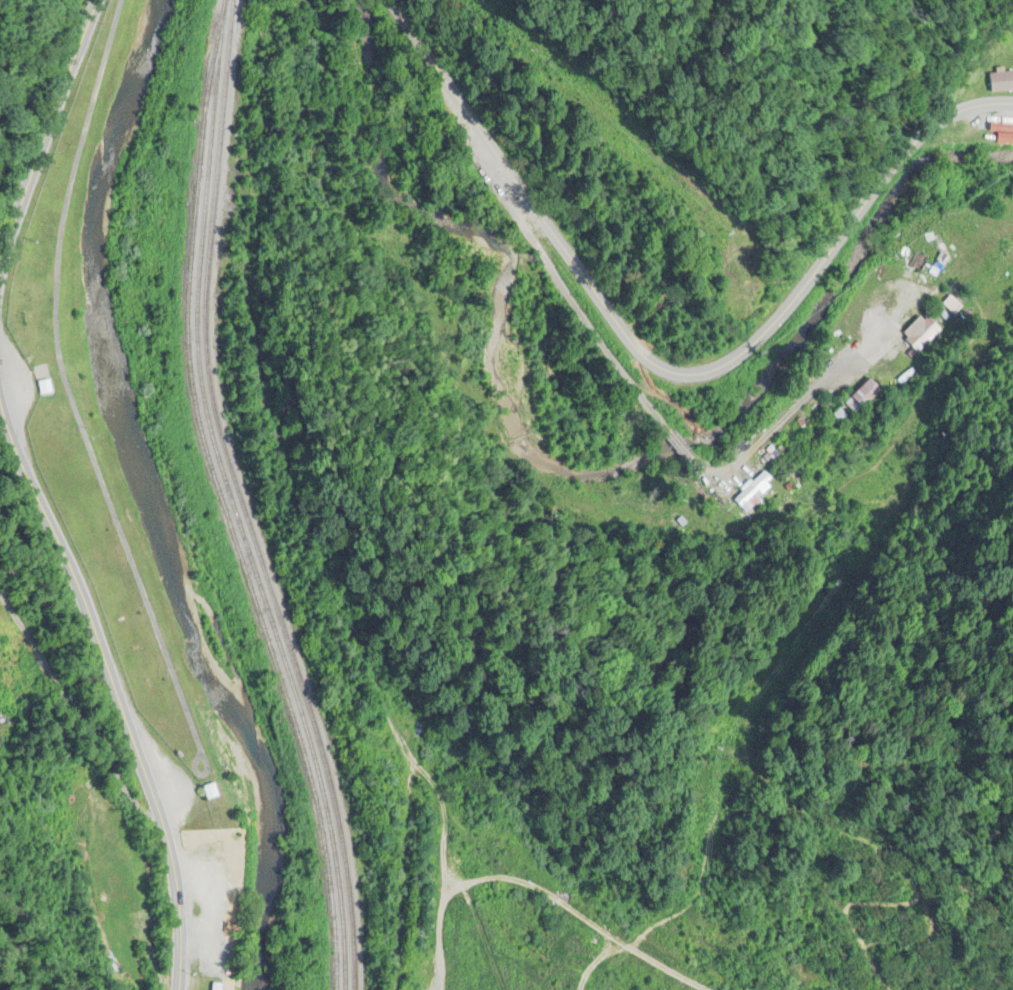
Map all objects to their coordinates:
building: (1000, 80)
road: (47, 130)
building: (919, 333)
road: (661, 380)
building: (45, 388)
building: (862, 397)
road: (668, 430)
building: (753, 491)
railway: (233, 499)
river: (138, 501)
road: (113, 690)
building: (8, 708)
road: (83, 719)
building: (211, 791)

